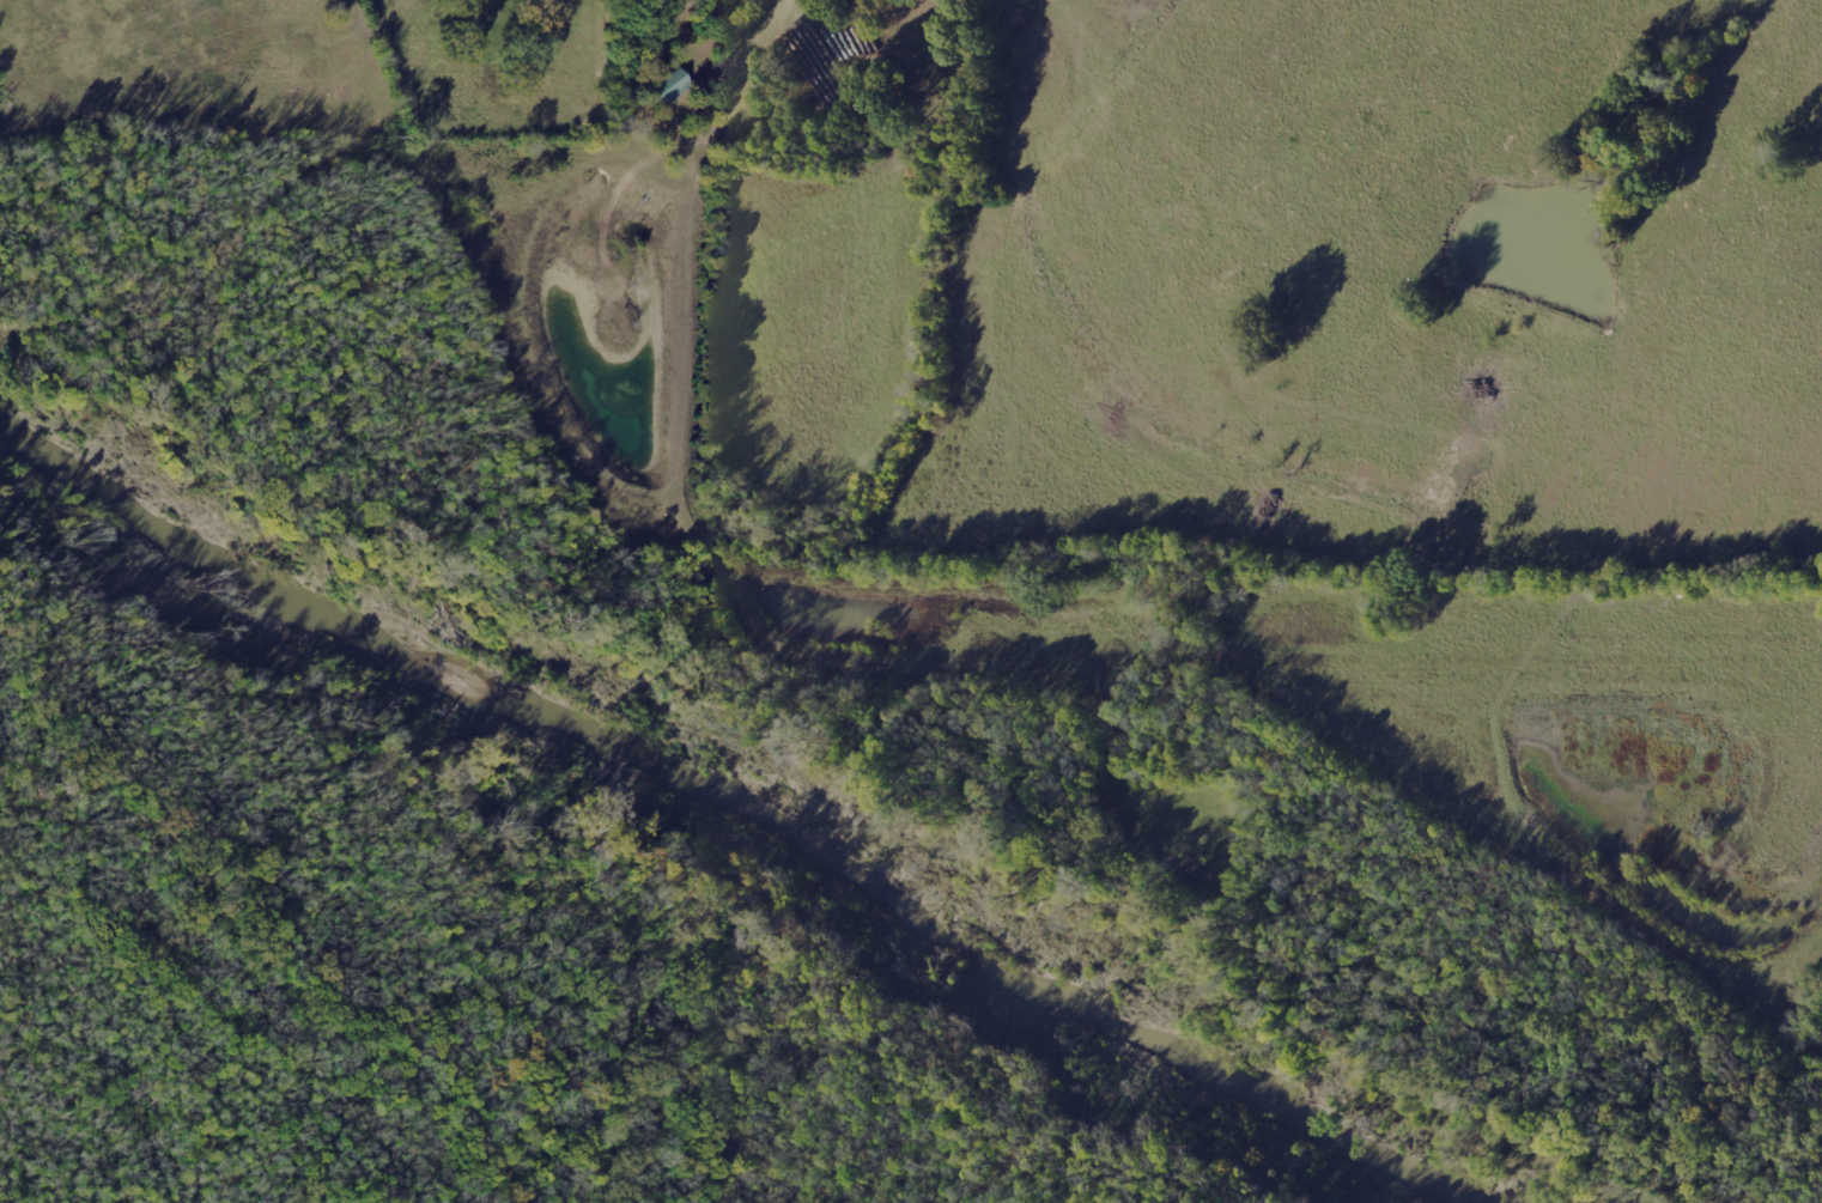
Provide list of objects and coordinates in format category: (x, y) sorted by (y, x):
road: (412, 7)
river: (730, 825)

